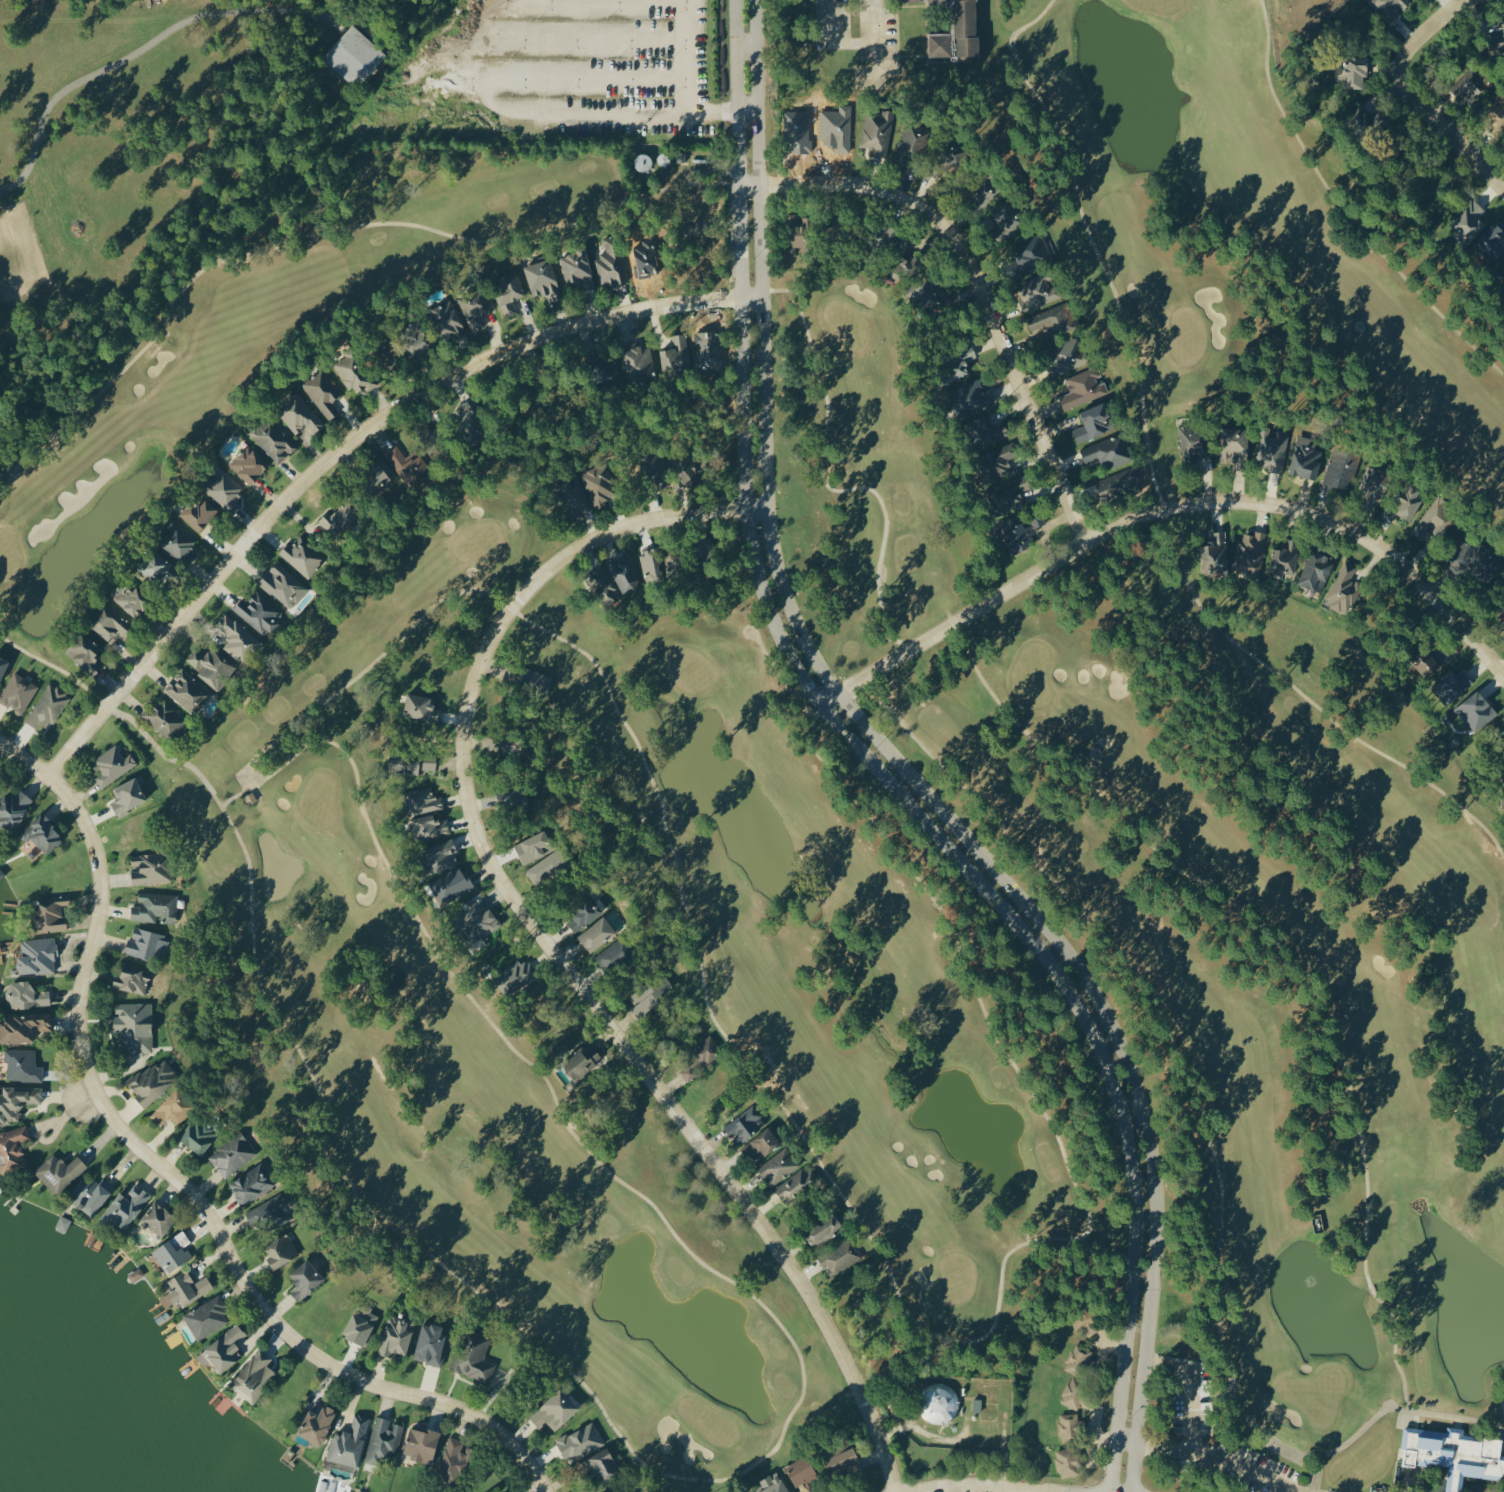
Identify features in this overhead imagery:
building: (911, 0)
building: (937, 0)
building: (1389, 8)
building: (967, 27)
building: (1497, 39)
road: (853, 43)
building: (941, 43)
building: (354, 55)
building: (1356, 71)
building: (1471, 84)
road: (1412, 93)
building: (1495, 110)
building: (877, 132)
building: (912, 141)
building: (954, 152)
building: (985, 186)
building: (1007, 218)
building: (1469, 223)
park: (1238, 231)
building: (797, 232)
building: (1490, 242)
building: (1032, 252)
building: (610, 263)
building: (577, 269)
building: (543, 279)
road: (983, 283)
building: (1039, 290)
building: (508, 291)
building: (927, 293)
building: (475, 303)
building: (447, 321)
building: (1052, 322)
building: (418, 335)
building: (676, 353)
building: (1067, 354)
building: (957, 362)
building: (639, 363)
building: (353, 372)
building: (1083, 388)
building: (322, 390)
building: (970, 397)
building: (298, 414)
building: (471, 419)
building: (1094, 423)
building: (0, 426)
building: (987, 431)
building: (273, 439)
building: (1193, 442)
road: (346, 443)
building: (1236, 445)
building: (1271, 450)
building: (1109, 451)
building: (1305, 458)
building: (995, 461)
building: (249, 464)
building: (408, 465)
building: (685, 467)
building: (1342, 467)
building: (655, 470)
building: (376, 477)
building: (1121, 482)
building: (599, 485)
building: (224, 487)
building: (1010, 493)
building: (574, 495)
building: (1411, 495)
road: (1172, 507)
building: (198, 513)
building: (340, 517)
building: (1434, 520)
building: (1017, 534)
building: (177, 542)
building: (705, 550)
building: (1217, 553)
building: (1250, 555)
building: (302, 556)
building: (1284, 558)
building: (1485, 560)
building: (155, 566)
building: (1316, 569)
building: (625, 575)
building: (282, 585)
building: (603, 585)
building: (1343, 588)
building: (132, 600)
building: (258, 613)
building: (108, 622)
building: (236, 638)
building: (85, 654)
building: (1425, 662)
building: (3, 666)
building: (209, 667)
building: (538, 682)
building: (1452, 686)
building: (187, 691)
building: (17, 693)
building: (47, 707)
building: (421, 708)
building: (1475, 710)
building: (162, 718)
building: (412, 762)
building: (111, 766)
road: (894, 767)
building: (128, 795)
building: (507, 797)
building: (421, 802)
building: (14, 809)
building: (428, 827)
building: (42, 834)
building: (535, 847)
building: (441, 856)
building: (151, 867)
building: (547, 868)
building: (1, 875)
building: (451, 885)
park: (826, 889)
building: (155, 907)
building: (50, 914)
building: (584, 914)
building: (476, 919)
building: (597, 935)
building: (146, 942)
road: (550, 947)
building: (37, 955)
building: (613, 956)
building: (515, 975)
building: (131, 979)
building: (25, 993)
building: (651, 996)
building: (22, 1025)
building: (134, 1026)
building: (583, 1062)
building: (22, 1065)
building: (152, 1081)
building: (17, 1101)
building: (174, 1107)
building: (745, 1124)
building: (198, 1134)
building: (762, 1143)
building: (13, 1147)
building: (232, 1154)
building: (778, 1166)
building: (59, 1171)
road: (174, 1174)
building: (251, 1183)
building: (795, 1184)
building: (90, 1194)
building: (126, 1205)
building: (269, 1213)
building: (157, 1218)
building: (824, 1230)
building: (280, 1249)
building: (172, 1250)
building: (840, 1257)
building: (305, 1278)
building: (185, 1289)
building: (207, 1317)
building: (361, 1323)
building: (396, 1335)
building: (432, 1343)
building: (225, 1348)
building: (474, 1356)
building: (1077, 1358)
building: (254, 1376)
road: (1187, 1387)
building: (1074, 1393)
building: (940, 1403)
building: (555, 1409)
building: (316, 1424)
building: (1068, 1427)
building: (382, 1439)
building: (579, 1441)
building: (349, 1442)
building: (421, 1443)
building: (1454, 1454)
building: (841, 1455)
road: (1211, 1459)
building: (452, 1461)
building: (1067, 1462)
building: (604, 1465)
building: (801, 1474)
building: (774, 1484)
road: (987, 1484)
road: (1451, 1487)
road: (1436, 1488)
road: (1463, 1490)
building: (620, 1491)

